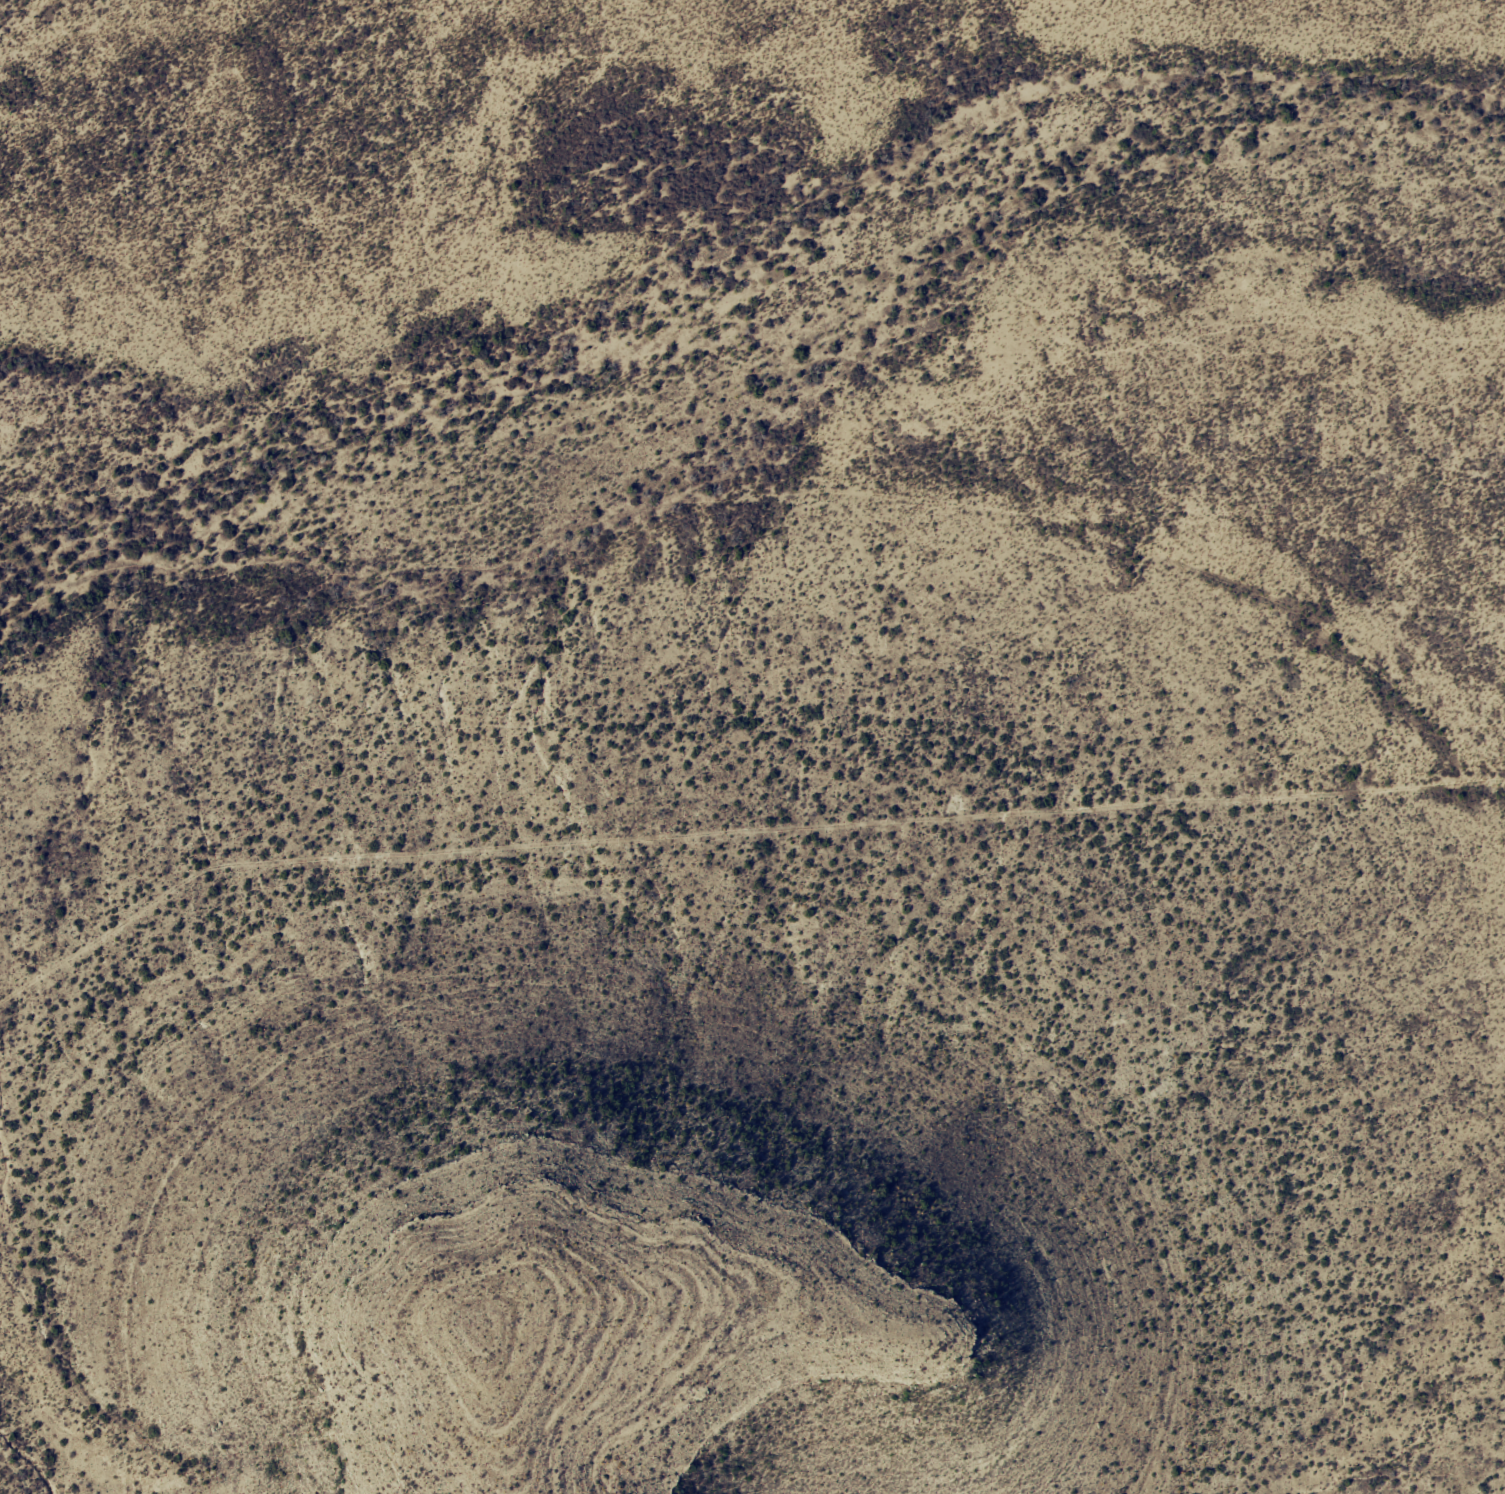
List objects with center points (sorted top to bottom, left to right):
road: (787, 503)

